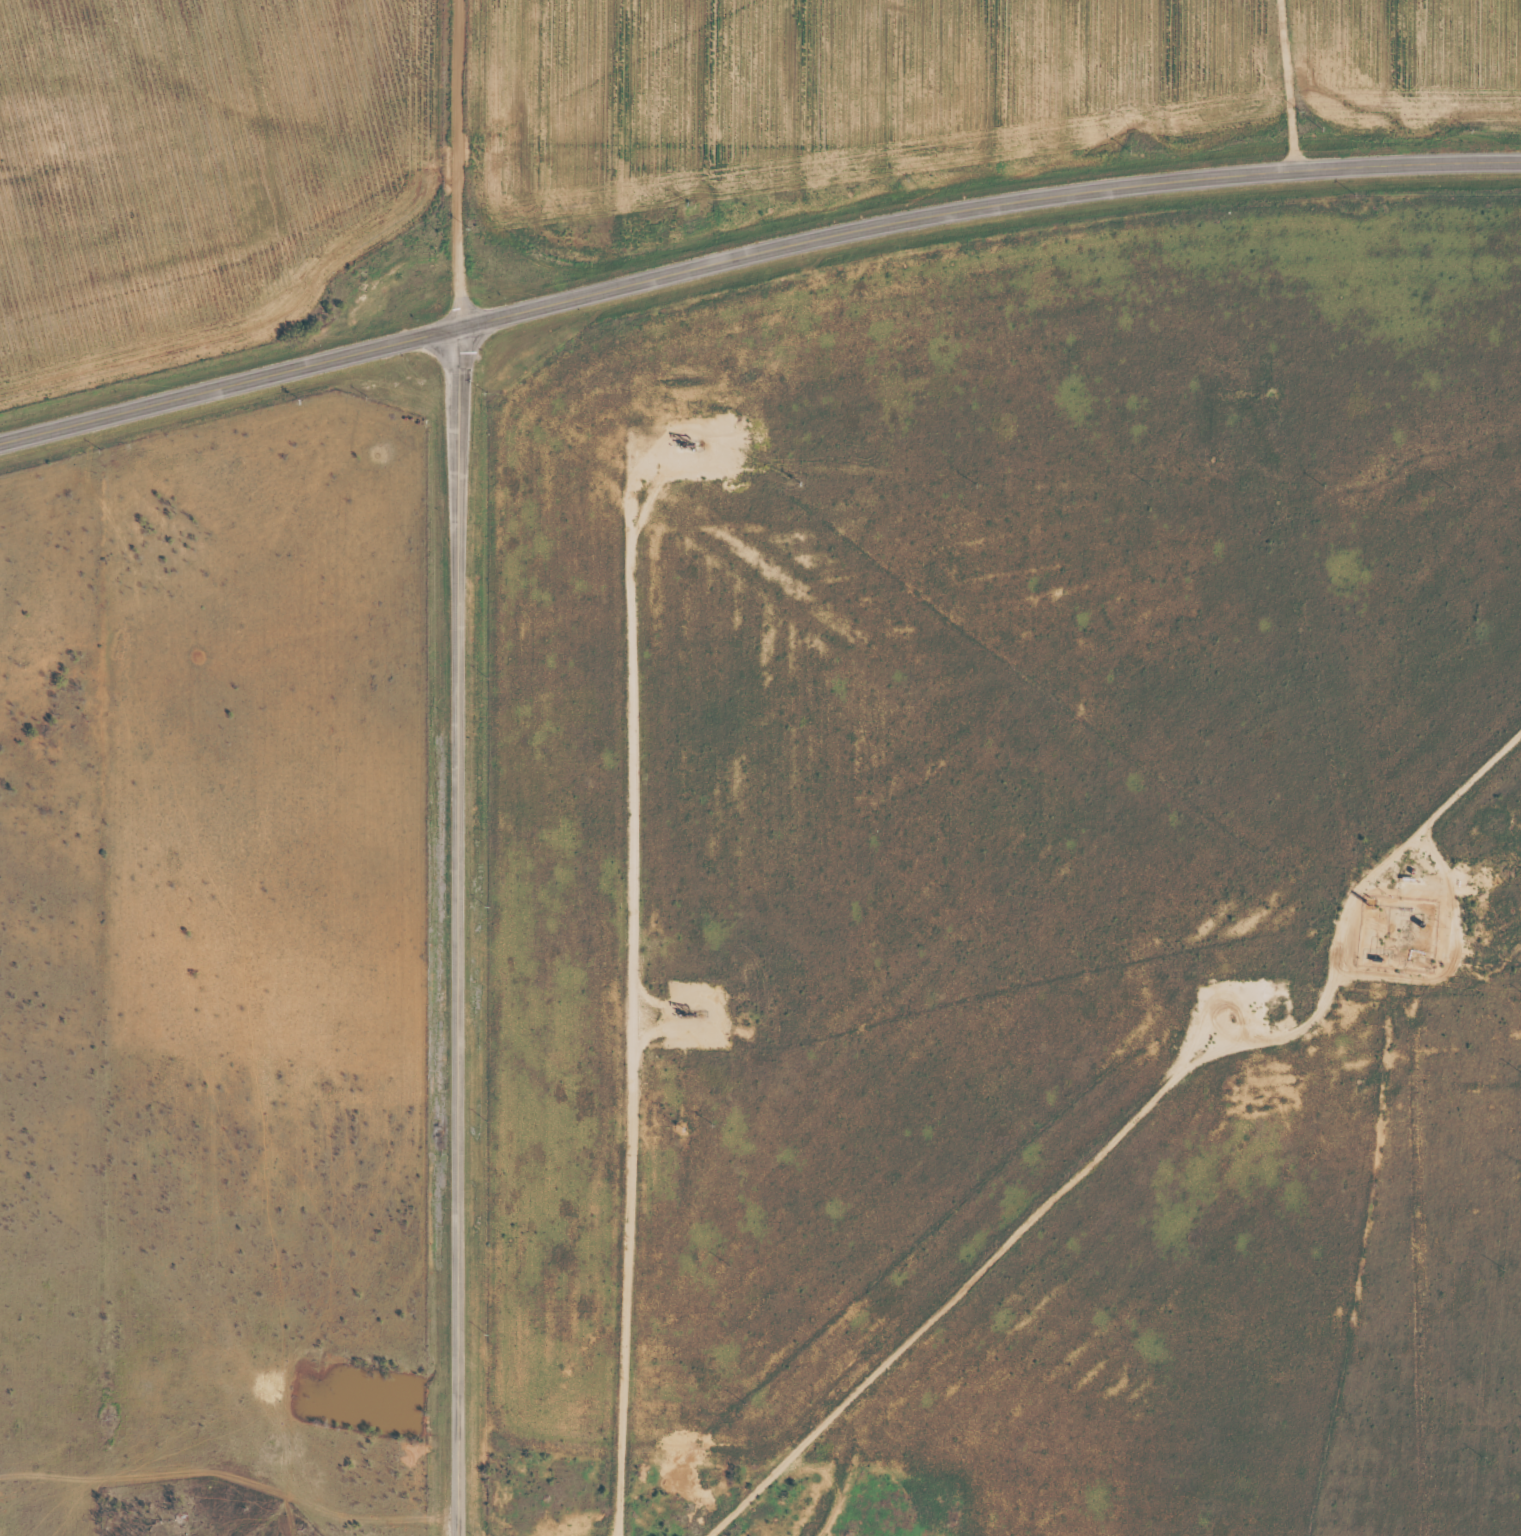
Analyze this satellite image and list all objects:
road: (457, 165)
road: (752, 256)
petroleum well: (692, 442)
road: (1318, 686)
road: (457, 933)
petroleum well: (693, 1012)
road: (1111, 1136)

